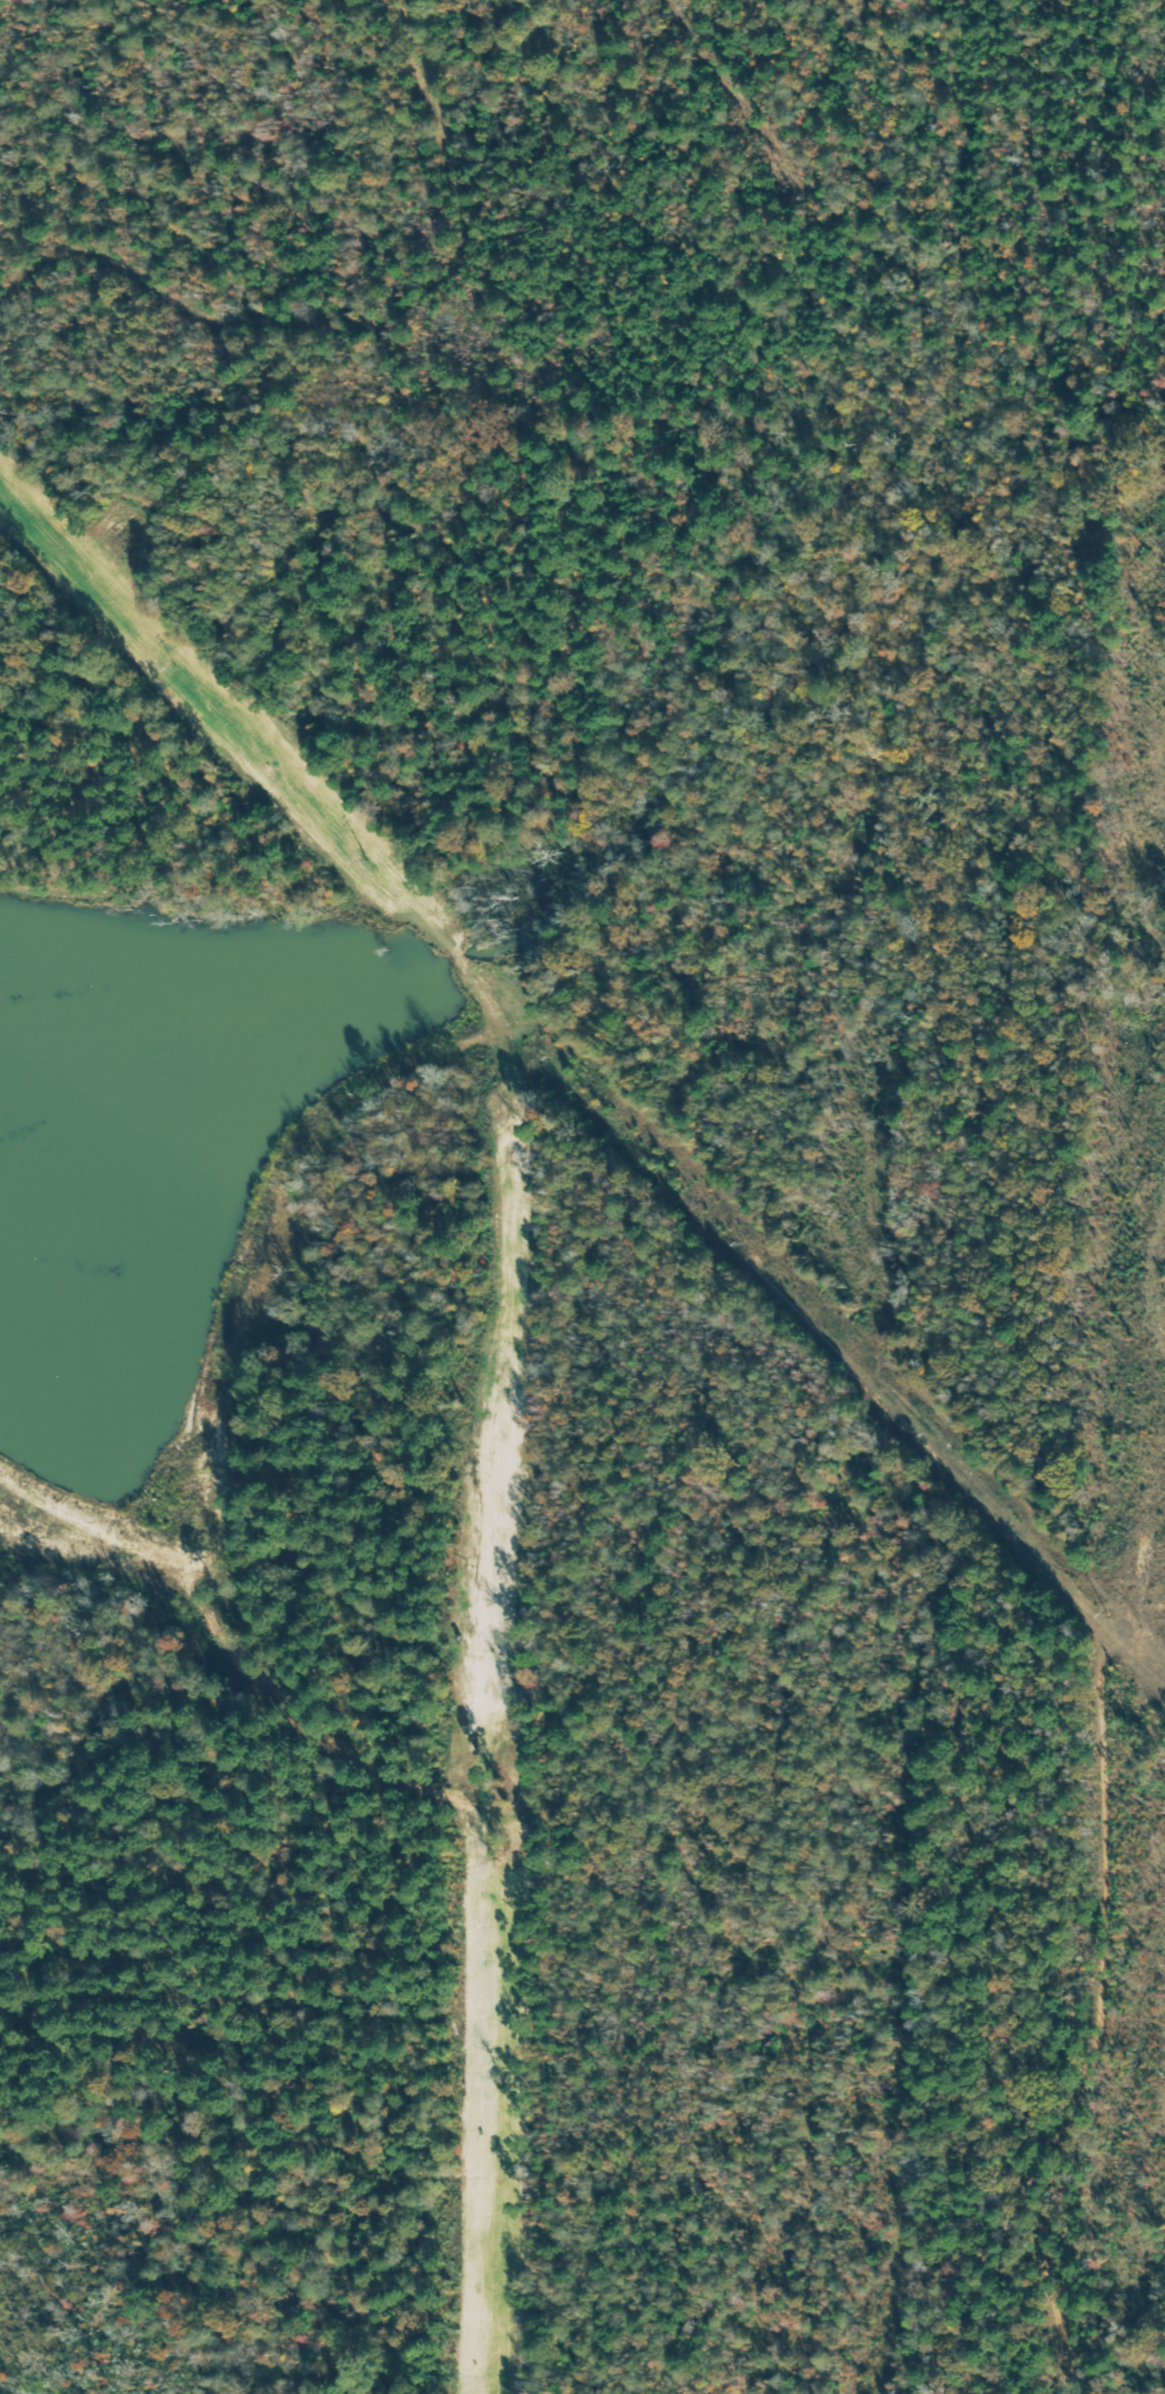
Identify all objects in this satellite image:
road: (377, 286)

